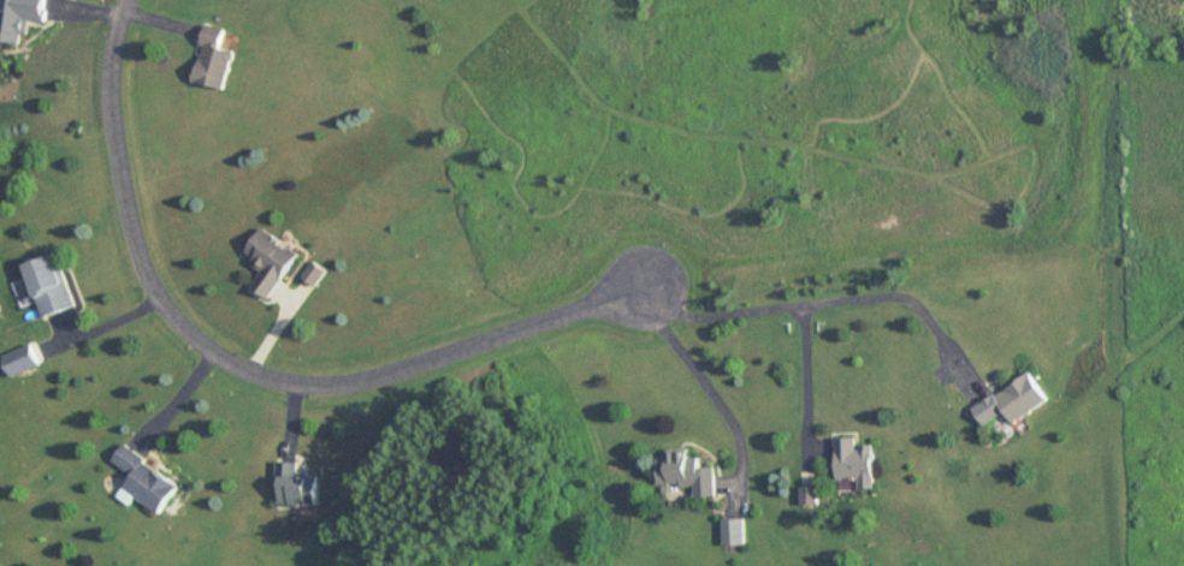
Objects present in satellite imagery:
building: (20, 18)
building: (215, 60)
building: (271, 262)
building: (53, 287)
road: (822, 303)
road: (241, 369)
road: (801, 373)
road: (703, 382)
building: (1013, 401)
building: (857, 466)
building: (687, 472)
building: (148, 482)
building: (297, 487)

